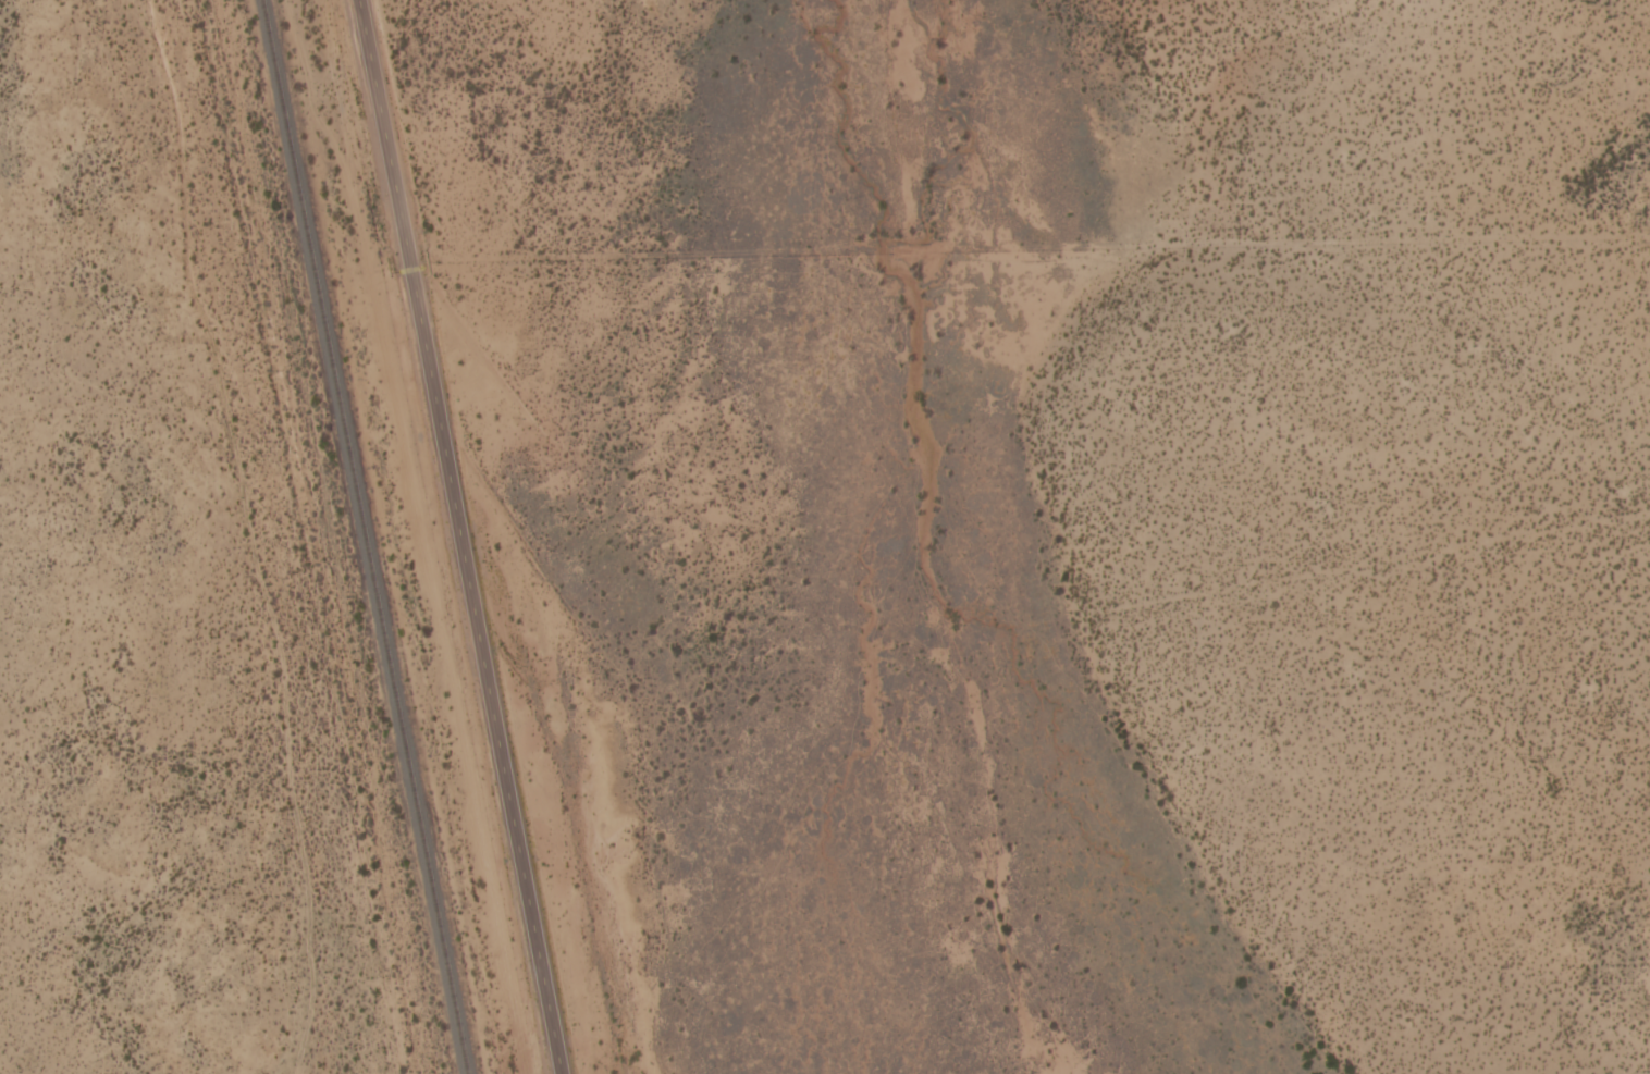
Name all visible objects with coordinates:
road: (238, 534)
railway: (362, 536)
road: (455, 536)

